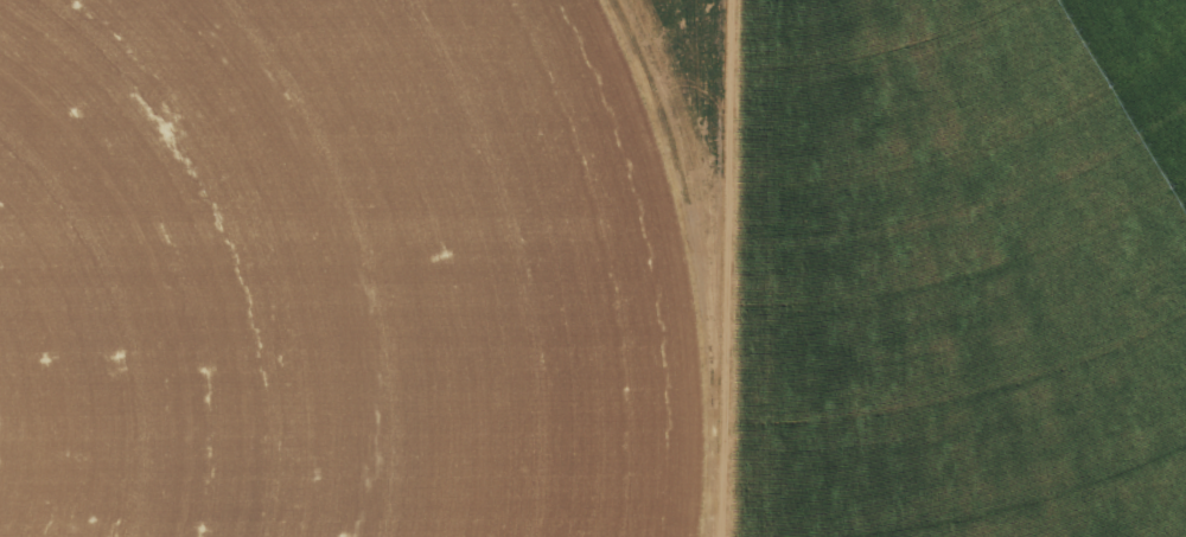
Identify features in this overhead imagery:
road: (714, 268)

